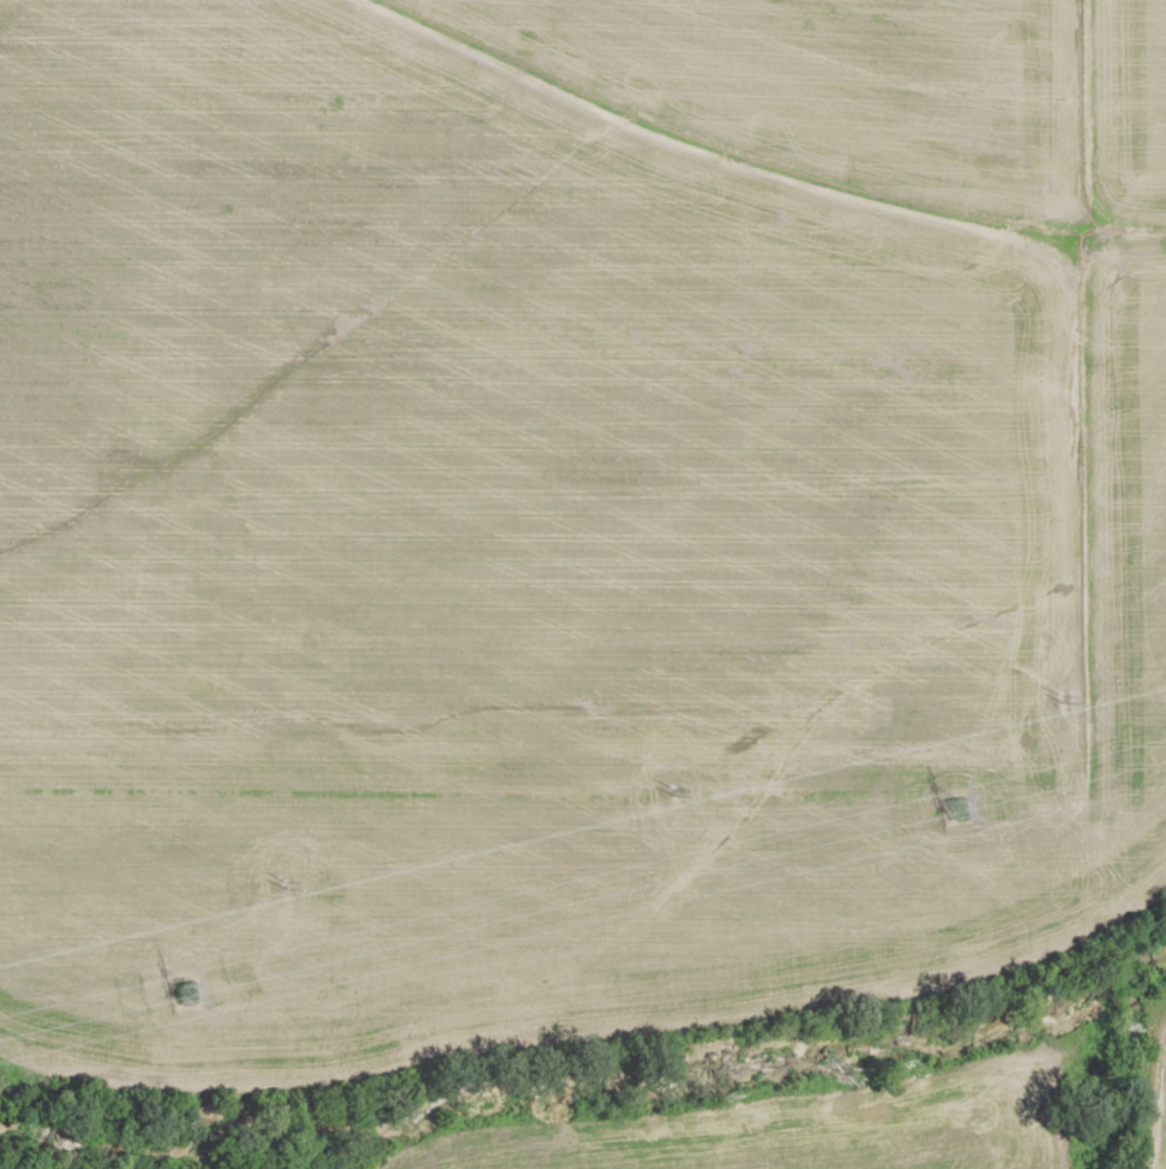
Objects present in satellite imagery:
power tower: (948, 804)
power tower: (169, 987)

